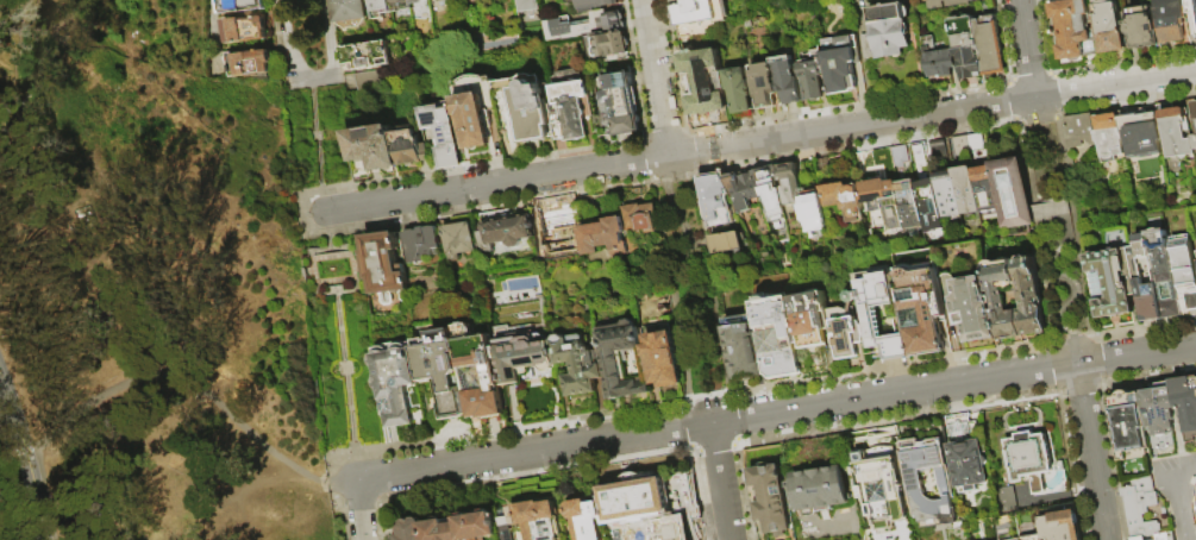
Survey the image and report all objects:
building: (440, 0)
building: (678, 1)
building: (413, 2)
building: (950, 4)
building: (243, 5)
building: (595, 5)
building: (396, 6)
building: (525, 6)
building: (1195, 6)
building: (377, 8)
building: (700, 12)
building: (346, 13)
building: (887, 13)
building: (1171, 21)
building: (584, 26)
building: (246, 31)
building: (1112, 31)
building: (1076, 32)
building: (1144, 33)
road: (284, 34)
building: (887, 39)
building: (609, 46)
building: (966, 46)
building: (990, 46)
road: (1026, 49)
road: (328, 55)
building: (365, 56)
building: (938, 59)
building: (839, 63)
building: (251, 64)
building: (813, 76)
building: (365, 77)
road: (657, 79)
building: (788, 81)
building: (703, 82)
building: (765, 86)
building: (739, 90)
building: (620, 103)
building: (475, 111)
building: (570, 111)
building: (1195, 111)
building: (530, 113)
building: (1140, 131)
building: (1079, 132)
building: (1177, 134)
building: (443, 138)
building: (1109, 138)
road: (760, 142)
building: (1194, 143)
building: (968, 146)
building: (371, 147)
building: (408, 149)
building: (937, 151)
building: (919, 153)
building: (898, 156)
building: (875, 159)
road: (1026, 163)
building: (789, 188)
building: (984, 190)
building: (757, 191)
building: (965, 193)
building: (947, 196)
building: (1012, 196)
building: (844, 200)
building: (715, 201)
building: (885, 202)
building: (909, 208)
building: (929, 208)
road: (672, 209)
road: (325, 211)
building: (813, 211)
street lamp: (308, 216)
building: (640, 219)
road: (1073, 226)
building: (502, 232)
building: (601, 236)
building: (458, 240)
building: (420, 244)
building: (727, 244)
road: (332, 258)
building: (1185, 264)
road: (352, 268)
building: (383, 268)
road: (313, 270)
building: (1166, 271)
road: (334, 281)
road: (1067, 281)
building: (1113, 284)
park: (148, 287)
building: (1003, 300)
building: (1029, 300)
building: (922, 308)
building: (972, 312)
building: (872, 318)
building: (810, 320)
building: (849, 334)
building: (778, 338)
building: (743, 350)
building: (524, 359)
building: (662, 360)
building: (577, 364)
building: (612, 366)
road: (345, 368)
building: (443, 372)
building: (481, 377)
building: (395, 382)
road: (4, 394)
road: (194, 396)
building: (1185, 406)
building: (1159, 409)
road: (776, 413)
building: (1129, 426)
road: (1090, 452)
road: (25, 456)
building: (968, 460)
road: (355, 461)
building: (1029, 461)
road: (1186, 477)
road: (720, 482)
building: (918, 482)
building: (883, 488)
building: (824, 490)
road: (250, 491)
building: (681, 497)
building: (637, 500)
building: (774, 501)
building: (1006, 502)
building: (1140, 508)
road: (358, 510)
road: (1182, 515)
building: (588, 520)
building: (534, 521)
building: (1062, 523)
building: (478, 526)
building: (443, 529)
building: (411, 530)
building: (1161, 536)
building: (1035, 539)
building: (1140, 539)

